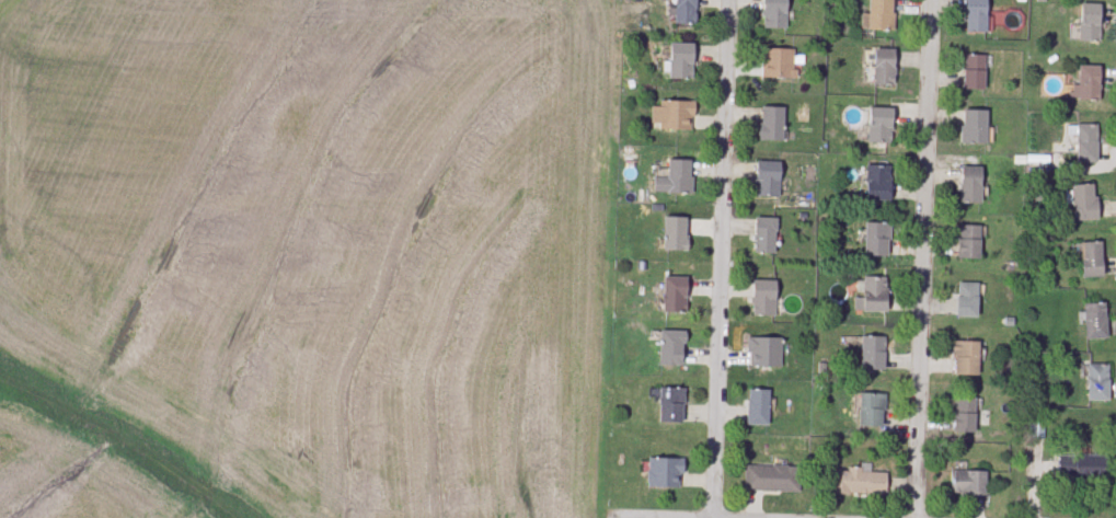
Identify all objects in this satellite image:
building: (686, 12)
building: (775, 14)
building: (879, 16)
building: (977, 16)
building: (1090, 22)
building: (682, 61)
building: (776, 64)
building: (885, 67)
building: (975, 72)
building: (1089, 82)
building: (674, 116)
building: (772, 124)
building: (881, 126)
building: (975, 126)
building: (1086, 143)
building: (676, 179)
building: (768, 180)
building: (878, 183)
building: (971, 185)
building: (1084, 203)
building: (676, 233)
building: (764, 235)
building: (876, 240)
building: (970, 242)
road: (726, 258)
road: (921, 258)
building: (1092, 261)
building: (675, 295)
building: (875, 295)
building: (764, 299)
building: (968, 300)
building: (1095, 322)
building: (671, 348)
building: (764, 353)
building: (873, 353)
building: (967, 358)
building: (1097, 382)
building: (671, 405)
building: (758, 407)
building: (870, 410)
building: (965, 415)
building: (1080, 470)
building: (665, 473)
building: (772, 479)
building: (859, 483)
building: (968, 483)

